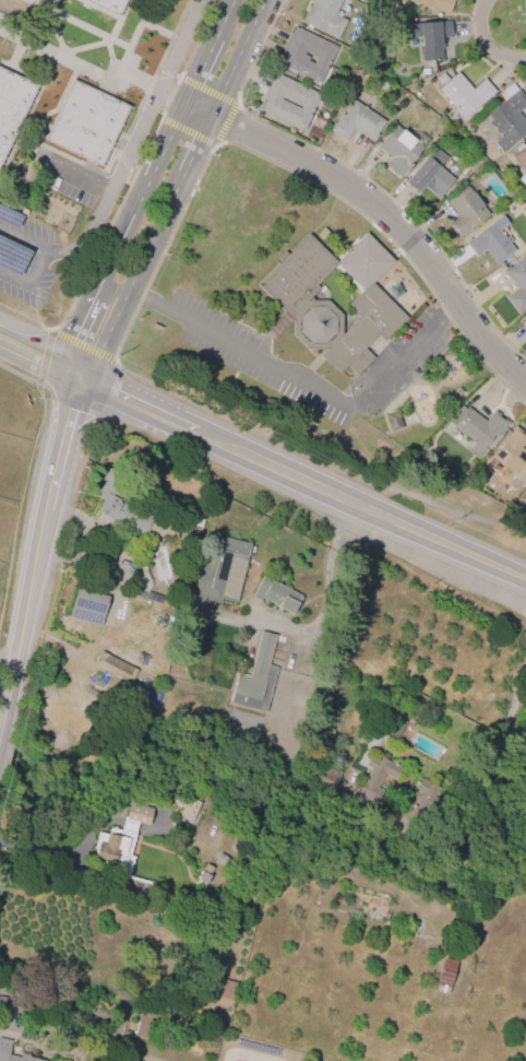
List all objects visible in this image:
building: (360, 0)
building: (112, 4)
building: (437, 4)
building: (324, 17)
road: (182, 35)
building: (431, 37)
road: (486, 42)
road: (207, 51)
building: (306, 55)
road: (235, 57)
road: (81, 68)
road: (172, 73)
building: (463, 93)
road: (170, 96)
building: (288, 102)
building: (12, 106)
road: (195, 109)
road: (153, 115)
building: (507, 118)
road: (225, 121)
building: (356, 122)
building: (87, 123)
building: (398, 150)
building: (521, 165)
road: (117, 173)
building: (429, 175)
parking lot: (64, 176)
road: (79, 180)
road: (141, 196)
road: (165, 207)
building: (464, 211)
road: (390, 217)
building: (491, 241)
road: (43, 256)
parking lot: (24, 258)
building: (516, 284)
building: (325, 305)
building: (525, 320)
road: (93, 329)
road: (432, 329)
parking lot: (421, 335)
road: (229, 342)
road: (39, 354)
building: (477, 426)
building: (510, 455)
road: (300, 480)
building: (133, 514)
building: (200, 514)
road: (38, 547)
building: (162, 564)
building: (218, 575)
road: (318, 592)
building: (276, 594)
building: (87, 606)
building: (115, 667)
road: (5, 669)
building: (255, 677)
road: (500, 739)
building: (375, 774)
building: (422, 798)
river: (265, 804)
building: (184, 805)
building: (122, 847)
building: (220, 860)
building: (204, 873)
building: (445, 975)
building: (225, 988)
building: (1, 1000)
building: (142, 1024)
building: (4, 1047)

